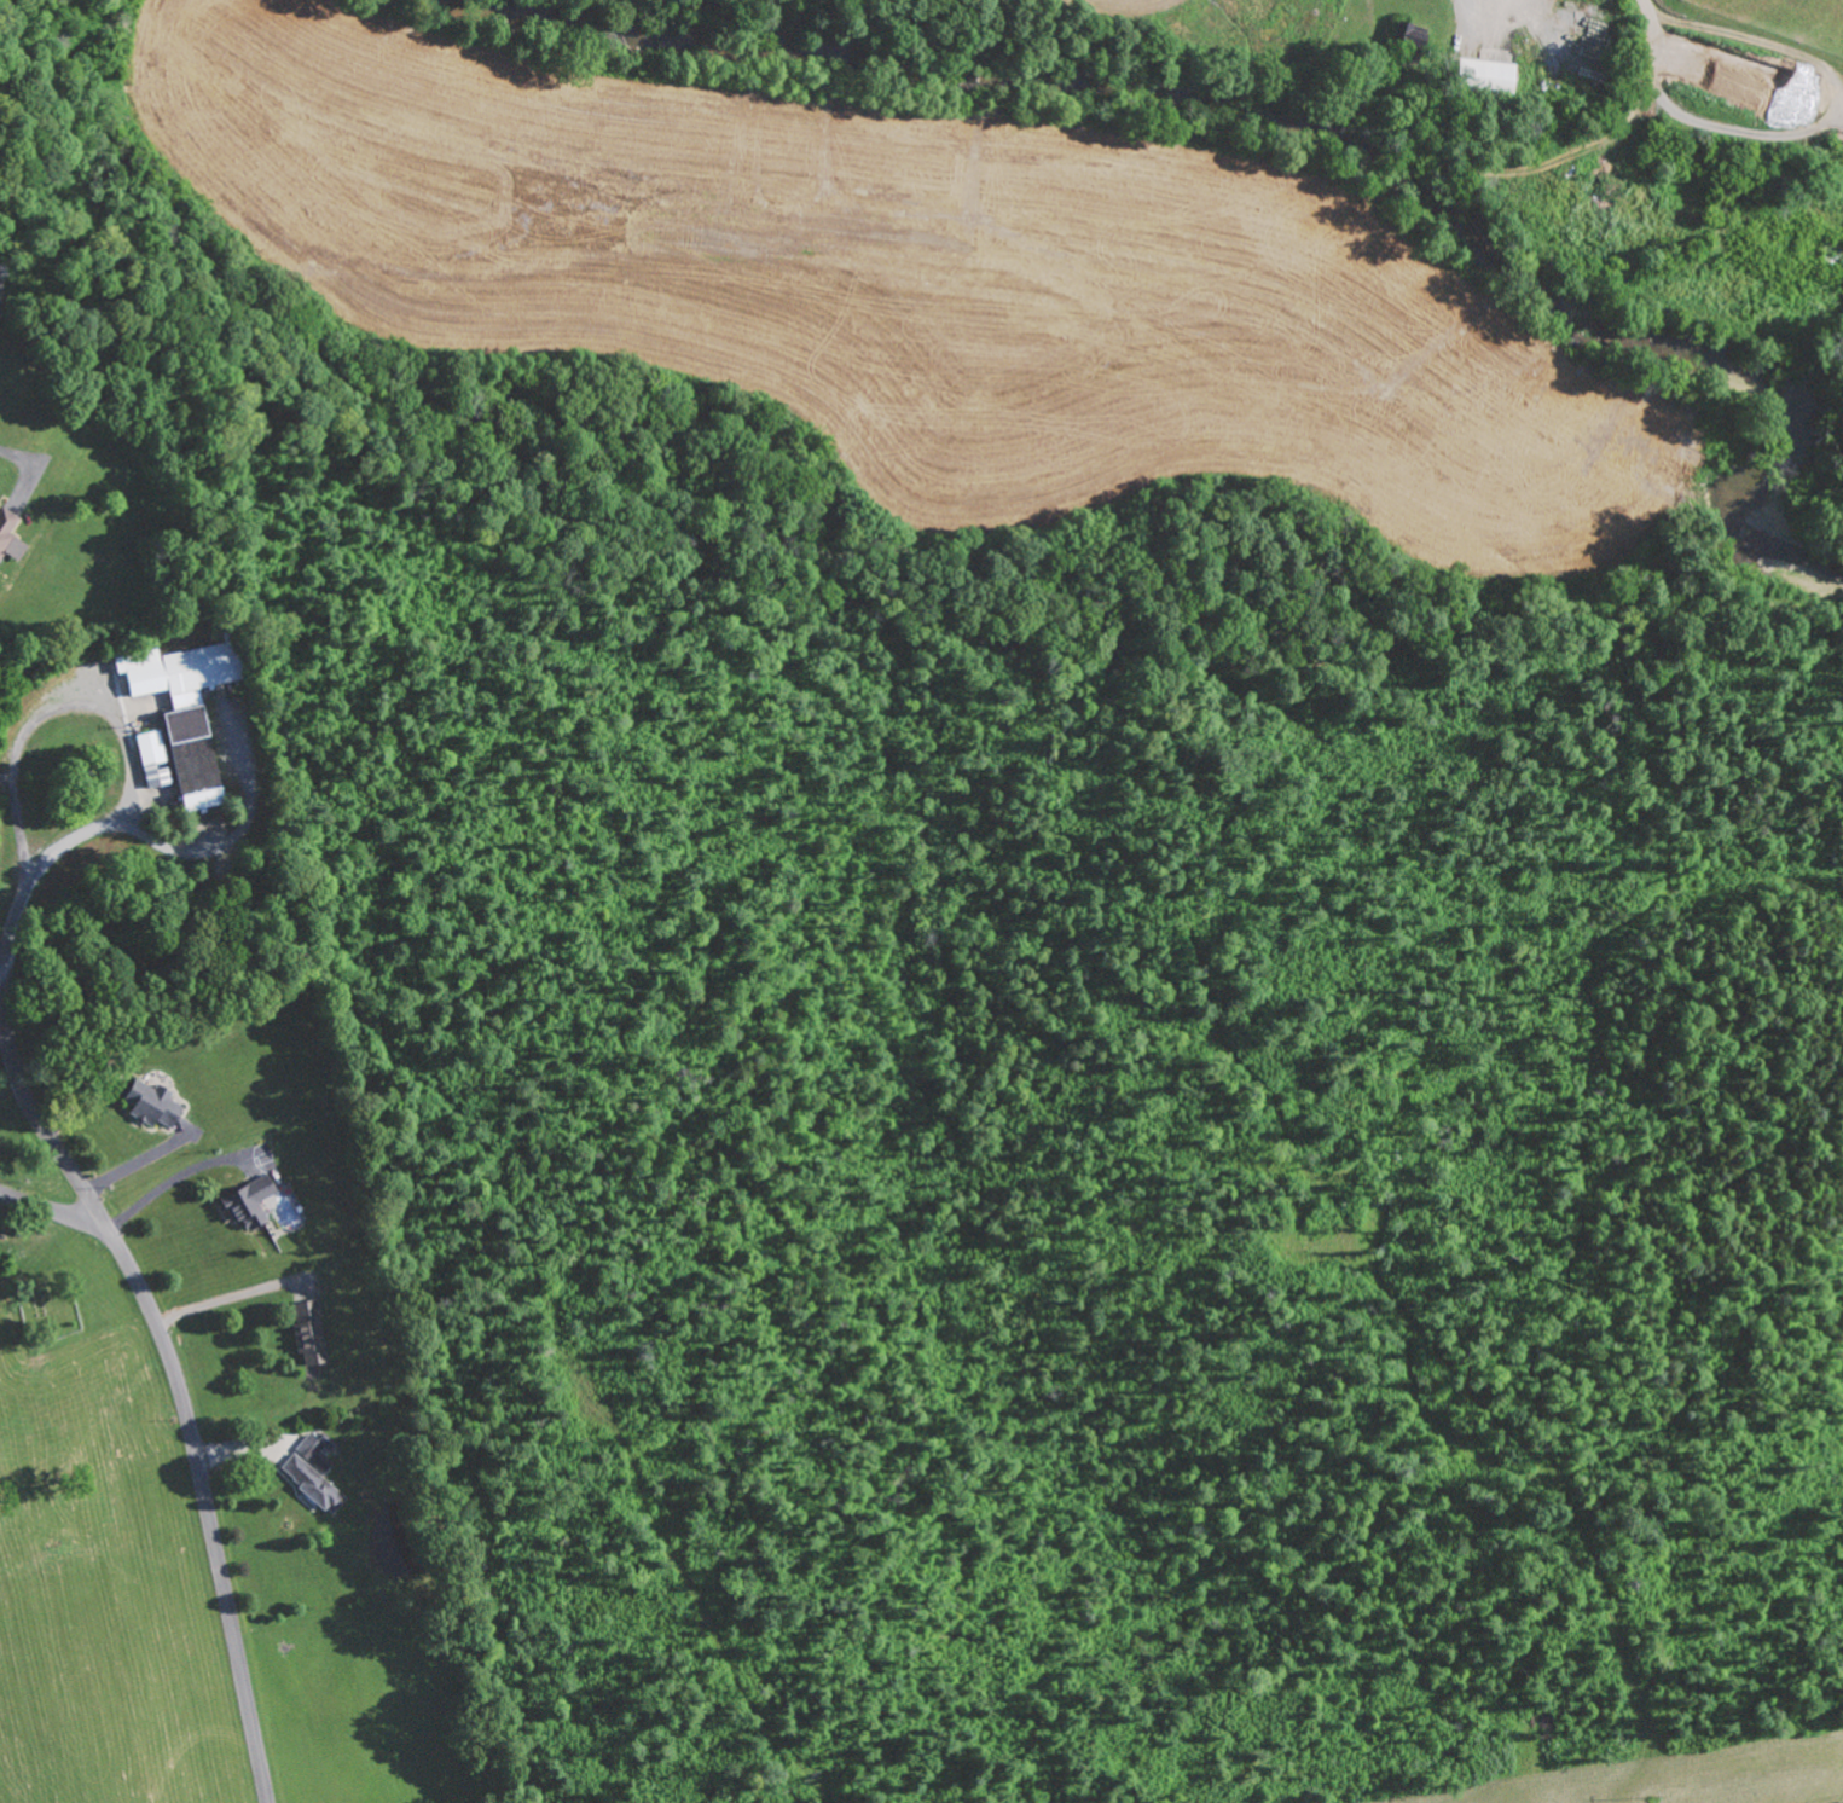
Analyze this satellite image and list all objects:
building: (1414, 44)
building: (1490, 74)
building: (1, 295)
building: (11, 535)
building: (190, 708)
building: (156, 758)
building: (157, 1103)
building: (253, 1202)
road: (48, 1205)
road: (160, 1321)
building: (313, 1333)
building: (315, 1474)

